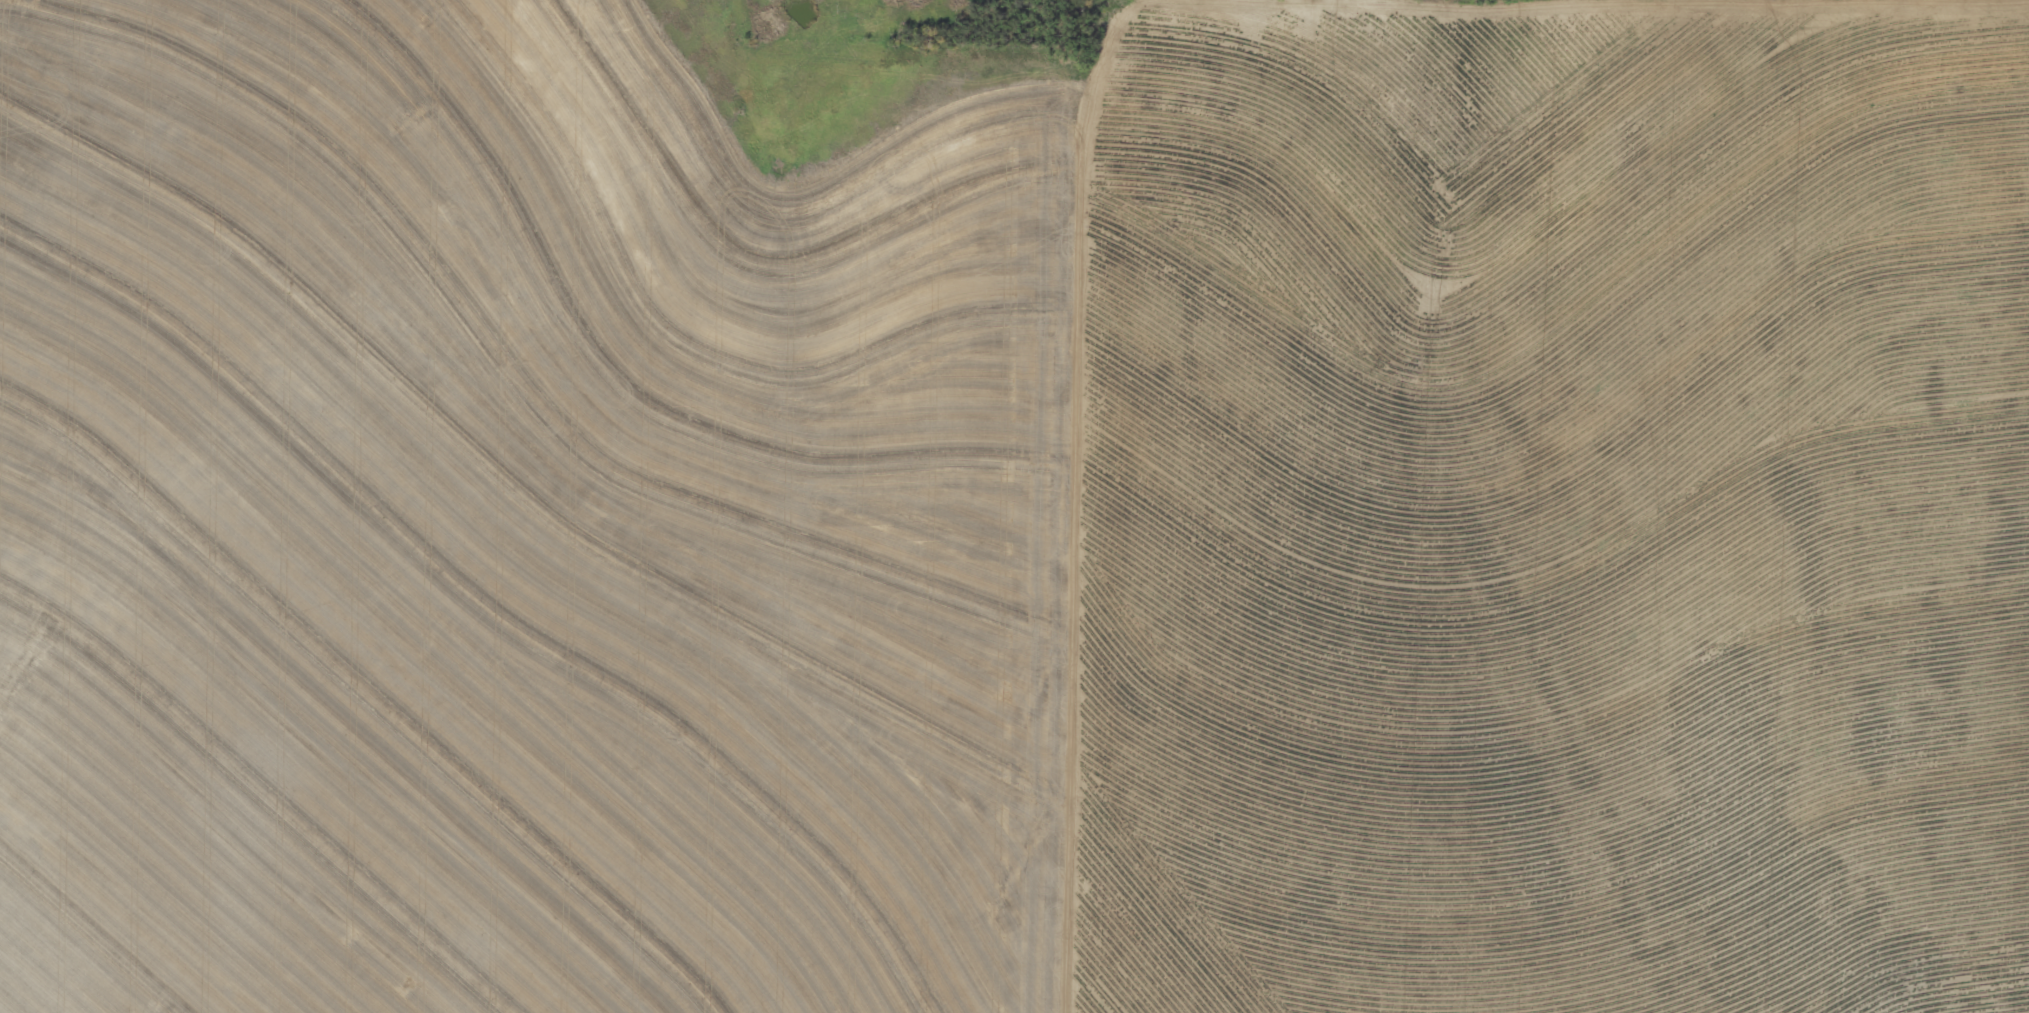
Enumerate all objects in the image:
road: (86, 54)
road: (80, 564)

